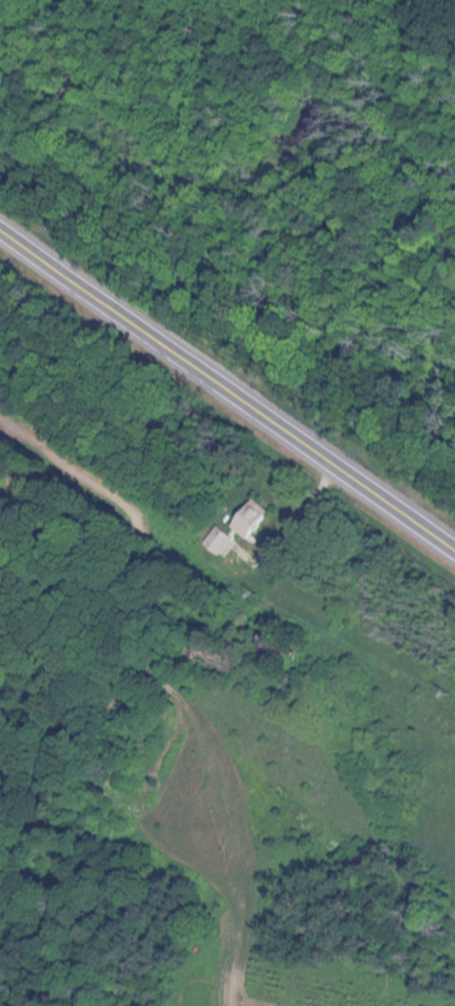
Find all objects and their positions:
road: (226, 381)
building: (256, 521)
building: (220, 541)
building: (286, 650)

